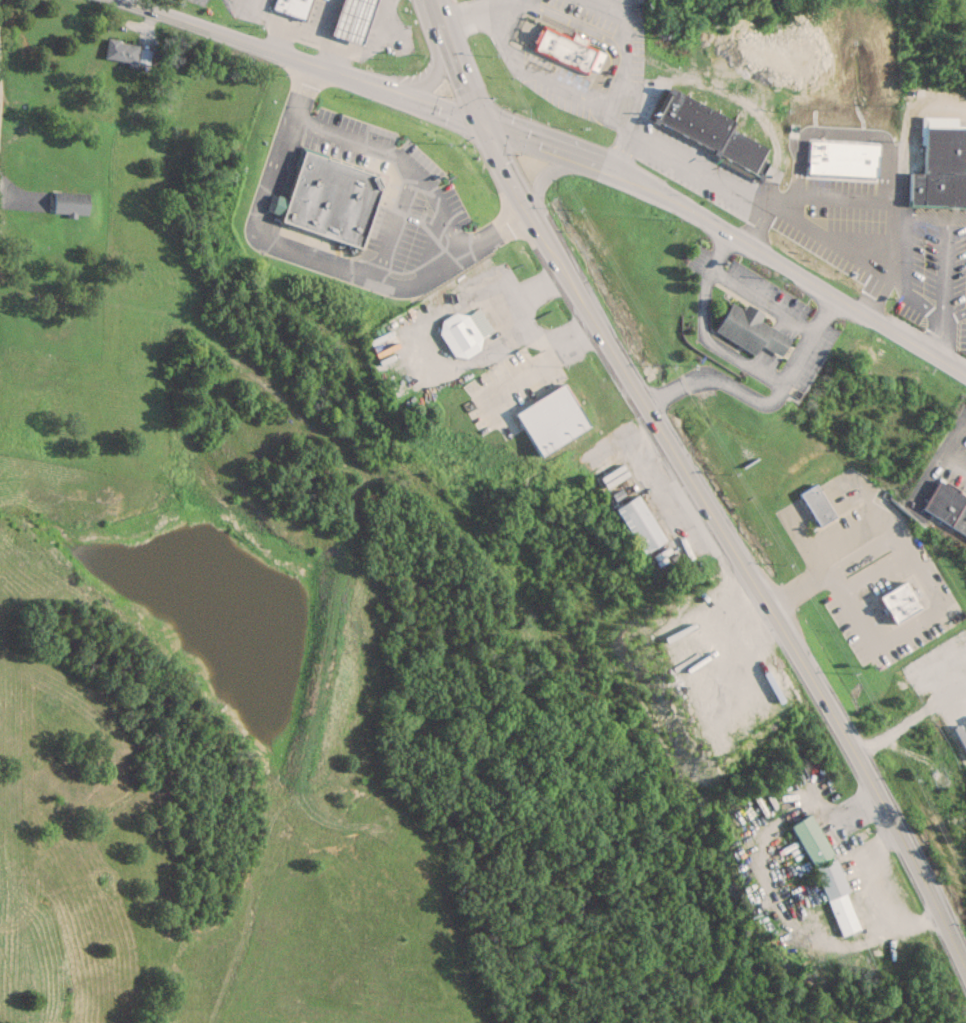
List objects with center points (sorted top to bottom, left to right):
building: (291, 7)
road: (475, 14)
road: (321, 16)
building: (350, 19)
gas station: (353, 19)
road: (441, 19)
road: (568, 21)
parking lot: (610, 28)
road: (313, 32)
road: (585, 34)
building: (576, 38)
road: (258, 44)
building: (563, 48)
building: (119, 50)
road: (430, 78)
road: (541, 78)
parking lot: (548, 80)
road: (465, 81)
road: (623, 87)
road: (436, 108)
traffic signals: (482, 124)
building: (710, 133)
road: (540, 145)
building: (942, 159)
road: (398, 160)
road: (861, 163)
parking lot: (693, 168)
road: (693, 170)
road: (288, 172)
road: (507, 172)
road: (549, 172)
road: (797, 181)
building: (915, 188)
building: (330, 199)
building: (68, 202)
building: (852, 204)
building: (278, 205)
road: (278, 205)
parking lot: (398, 208)
parking lot: (829, 215)
road: (927, 218)
road: (957, 219)
road: (392, 225)
road: (754, 226)
road: (270, 227)
road: (718, 251)
road: (835, 254)
road: (312, 256)
road: (784, 266)
parking lot: (933, 270)
road: (946, 273)
road: (905, 282)
road: (758, 301)
building: (747, 330)
building: (458, 334)
road: (955, 334)
road: (936, 340)
road: (711, 344)
building: (500, 400)
road: (763, 401)
building: (547, 414)
road: (688, 478)
building: (815, 505)
building: (945, 508)
building: (636, 522)
road: (922, 576)
building: (902, 607)
road: (909, 851)
building: (826, 878)
road: (12, 944)
building: (22, 1019)

